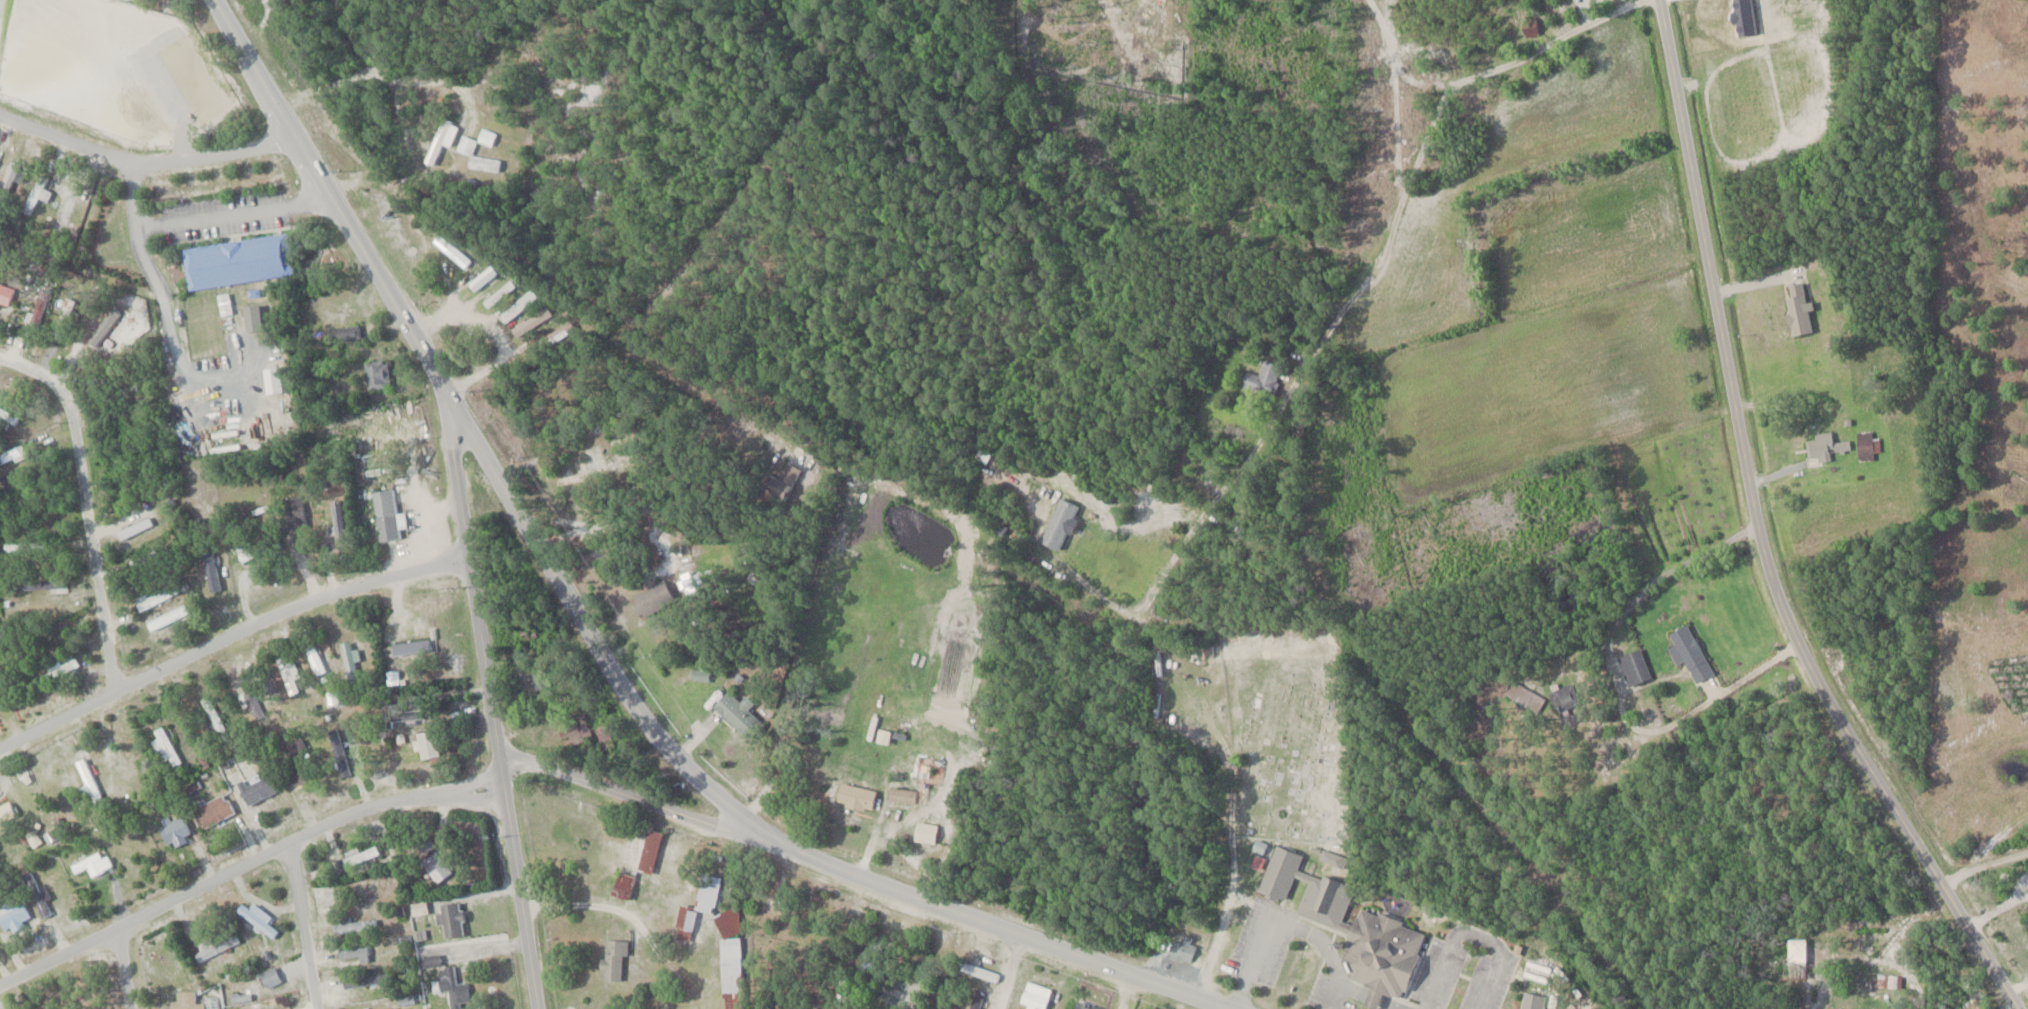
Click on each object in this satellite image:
building: (1764, 1)
park: (166, 6)
road: (1374, 39)
road: (383, 76)
building: (485, 135)
building: (470, 153)
road: (145, 162)
building: (36, 195)
building: (450, 249)
building: (237, 260)
building: (481, 277)
building: (5, 291)
building: (498, 293)
building: (516, 305)
building: (252, 316)
building: (537, 317)
building: (345, 331)
building: (376, 373)
building: (1261, 378)
building: (8, 416)
road: (1267, 430)
building: (1866, 444)
building: (1823, 446)
building: (12, 454)
building: (594, 458)
building: (1185, 466)
building: (780, 481)
road: (86, 506)
building: (295, 510)
building: (386, 514)
building: (336, 516)
building: (1058, 522)
building: (135, 527)
road: (1759, 533)
building: (17, 545)
building: (246, 549)
building: (43, 583)
building: (155, 596)
building: (650, 598)
building: (167, 617)
road: (227, 637)
road: (595, 645)
building: (411, 646)
building: (1689, 651)
building: (314, 658)
building: (350, 658)
building: (1634, 666)
building: (58, 671)
building: (289, 674)
building: (537, 676)
building: (249, 688)
road: (490, 705)
building: (738, 713)
building: (407, 714)
building: (211, 716)
building: (574, 730)
building: (606, 740)
building: (426, 744)
building: (164, 748)
building: (297, 764)
building: (87, 779)
building: (257, 790)
building: (902, 794)
building: (855, 796)
road: (651, 807)
building: (213, 809)
building: (7, 816)
building: (174, 828)
building: (924, 831)
building: (360, 854)
building: (636, 857)
building: (1331, 857)
building: (434, 861)
building: (91, 863)
road: (248, 863)
building: (1279, 871)
building: (37, 892)
building: (1323, 894)
building: (697, 905)
building: (12, 912)
building: (257, 917)
building: (451, 919)
road: (1286, 923)
building: (353, 924)
road: (305, 926)
road: (1469, 932)
building: (216, 943)
building: (1182, 948)
building: (352, 953)
building: (1380, 955)
building: (729, 957)
building: (612, 958)
road: (124, 969)
road: (1014, 973)
building: (269, 977)
building: (367, 979)
building: (453, 987)
building: (1033, 996)
road: (1375, 999)
building: (185, 1000)
building: (974, 1002)
building: (1084, 1005)
road: (1389, 1005)
building: (388, 1008)

